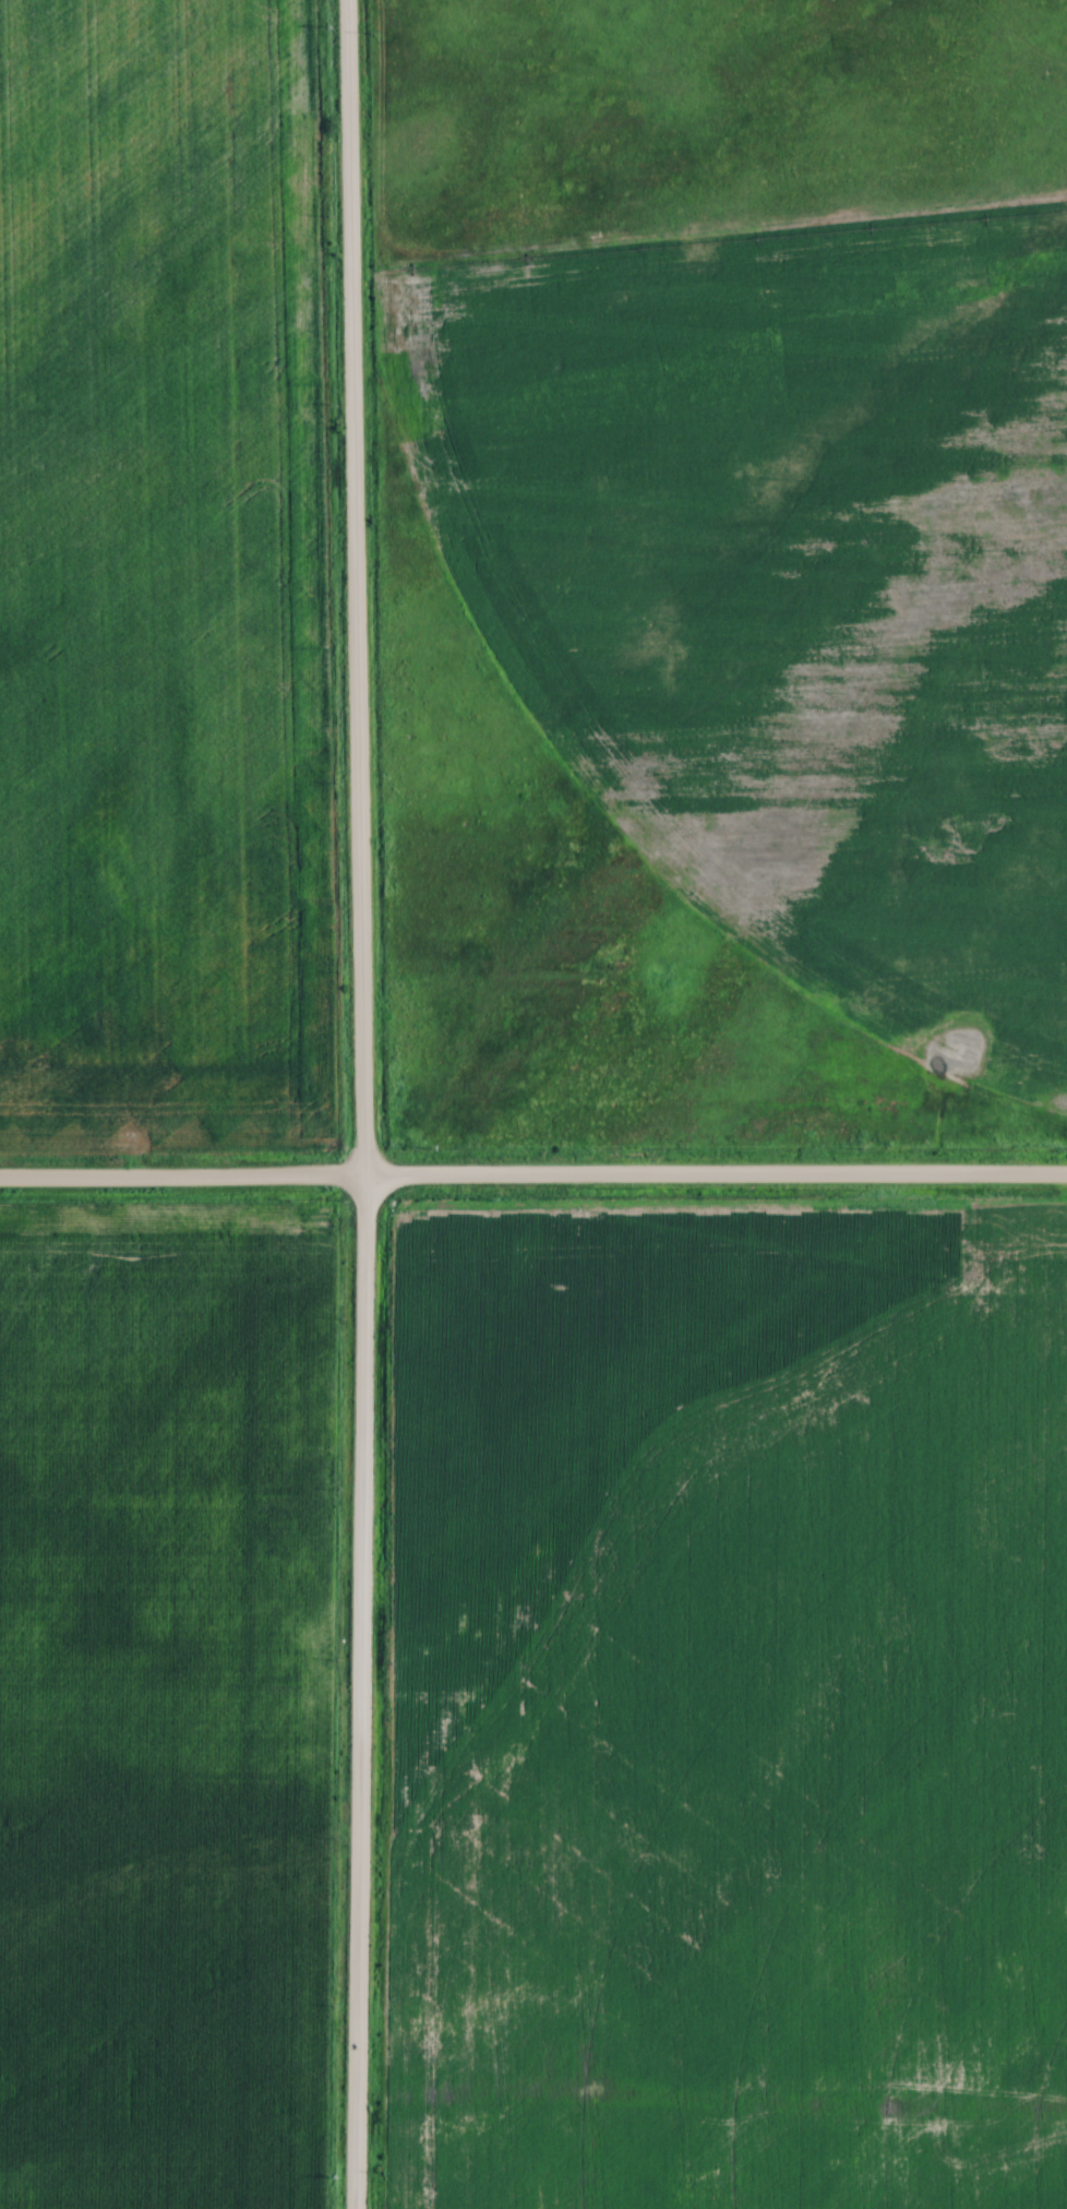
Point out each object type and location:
road: (364, 1103)
road: (533, 1175)

